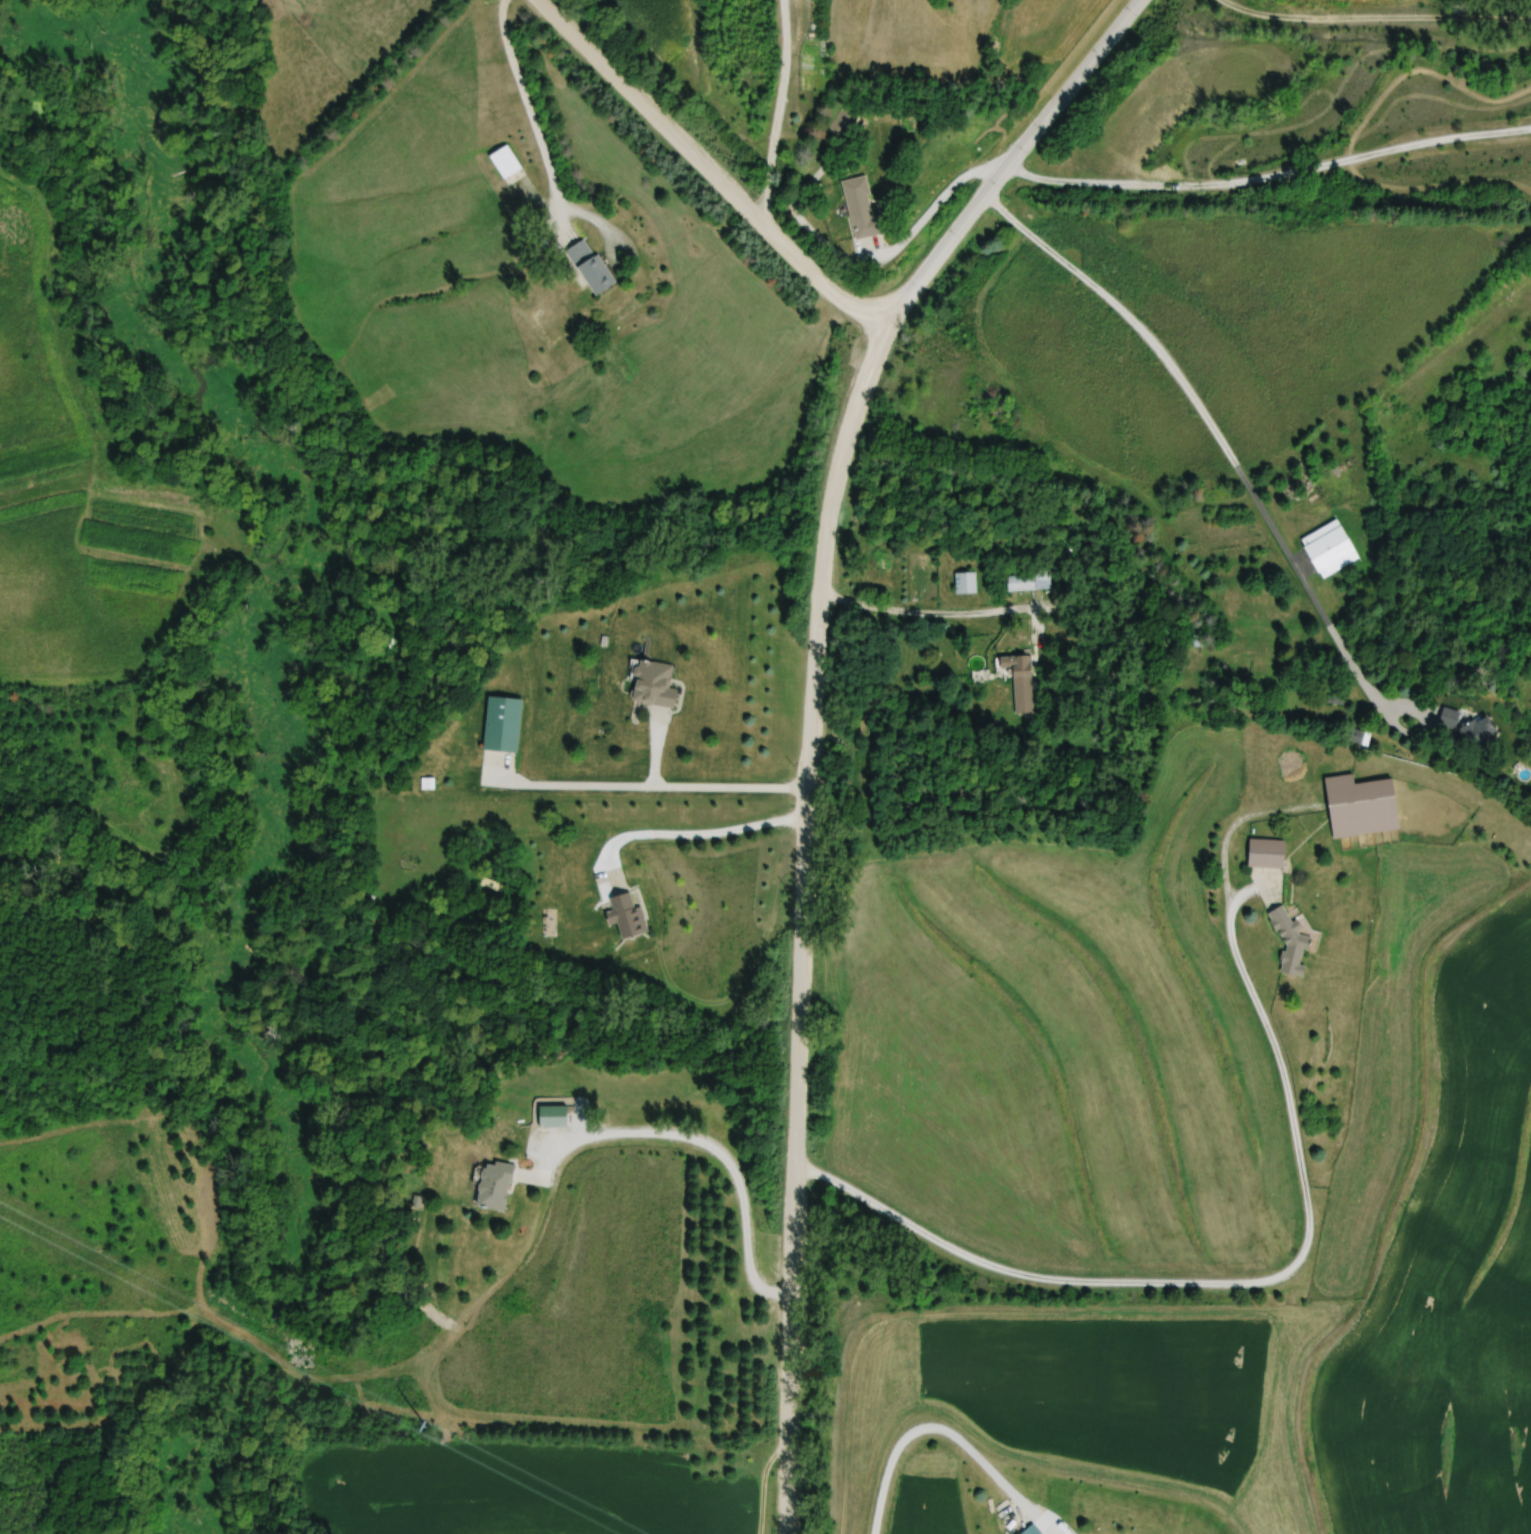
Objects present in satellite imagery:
road: (781, 112)
road: (530, 117)
building: (848, 119)
building: (506, 162)
road: (709, 172)
road: (1269, 180)
building: (860, 208)
road: (934, 210)
building: (591, 266)
road: (1206, 428)
building: (1329, 549)
building: (966, 583)
building: (1021, 583)
road: (947, 617)
building: (1021, 681)
building: (653, 684)
building: (1450, 716)
road: (810, 718)
road: (1384, 721)
building: (502, 725)
building: (1478, 732)
road: (650, 789)
building: (1360, 807)
road: (695, 839)
building: (1266, 853)
building: (626, 916)
building: (1288, 940)
building: (553, 1117)
road: (707, 1146)
building: (494, 1185)
road: (1297, 1258)
power tower: (427, 1428)
road: (940, 1434)
building: (1032, 1530)

